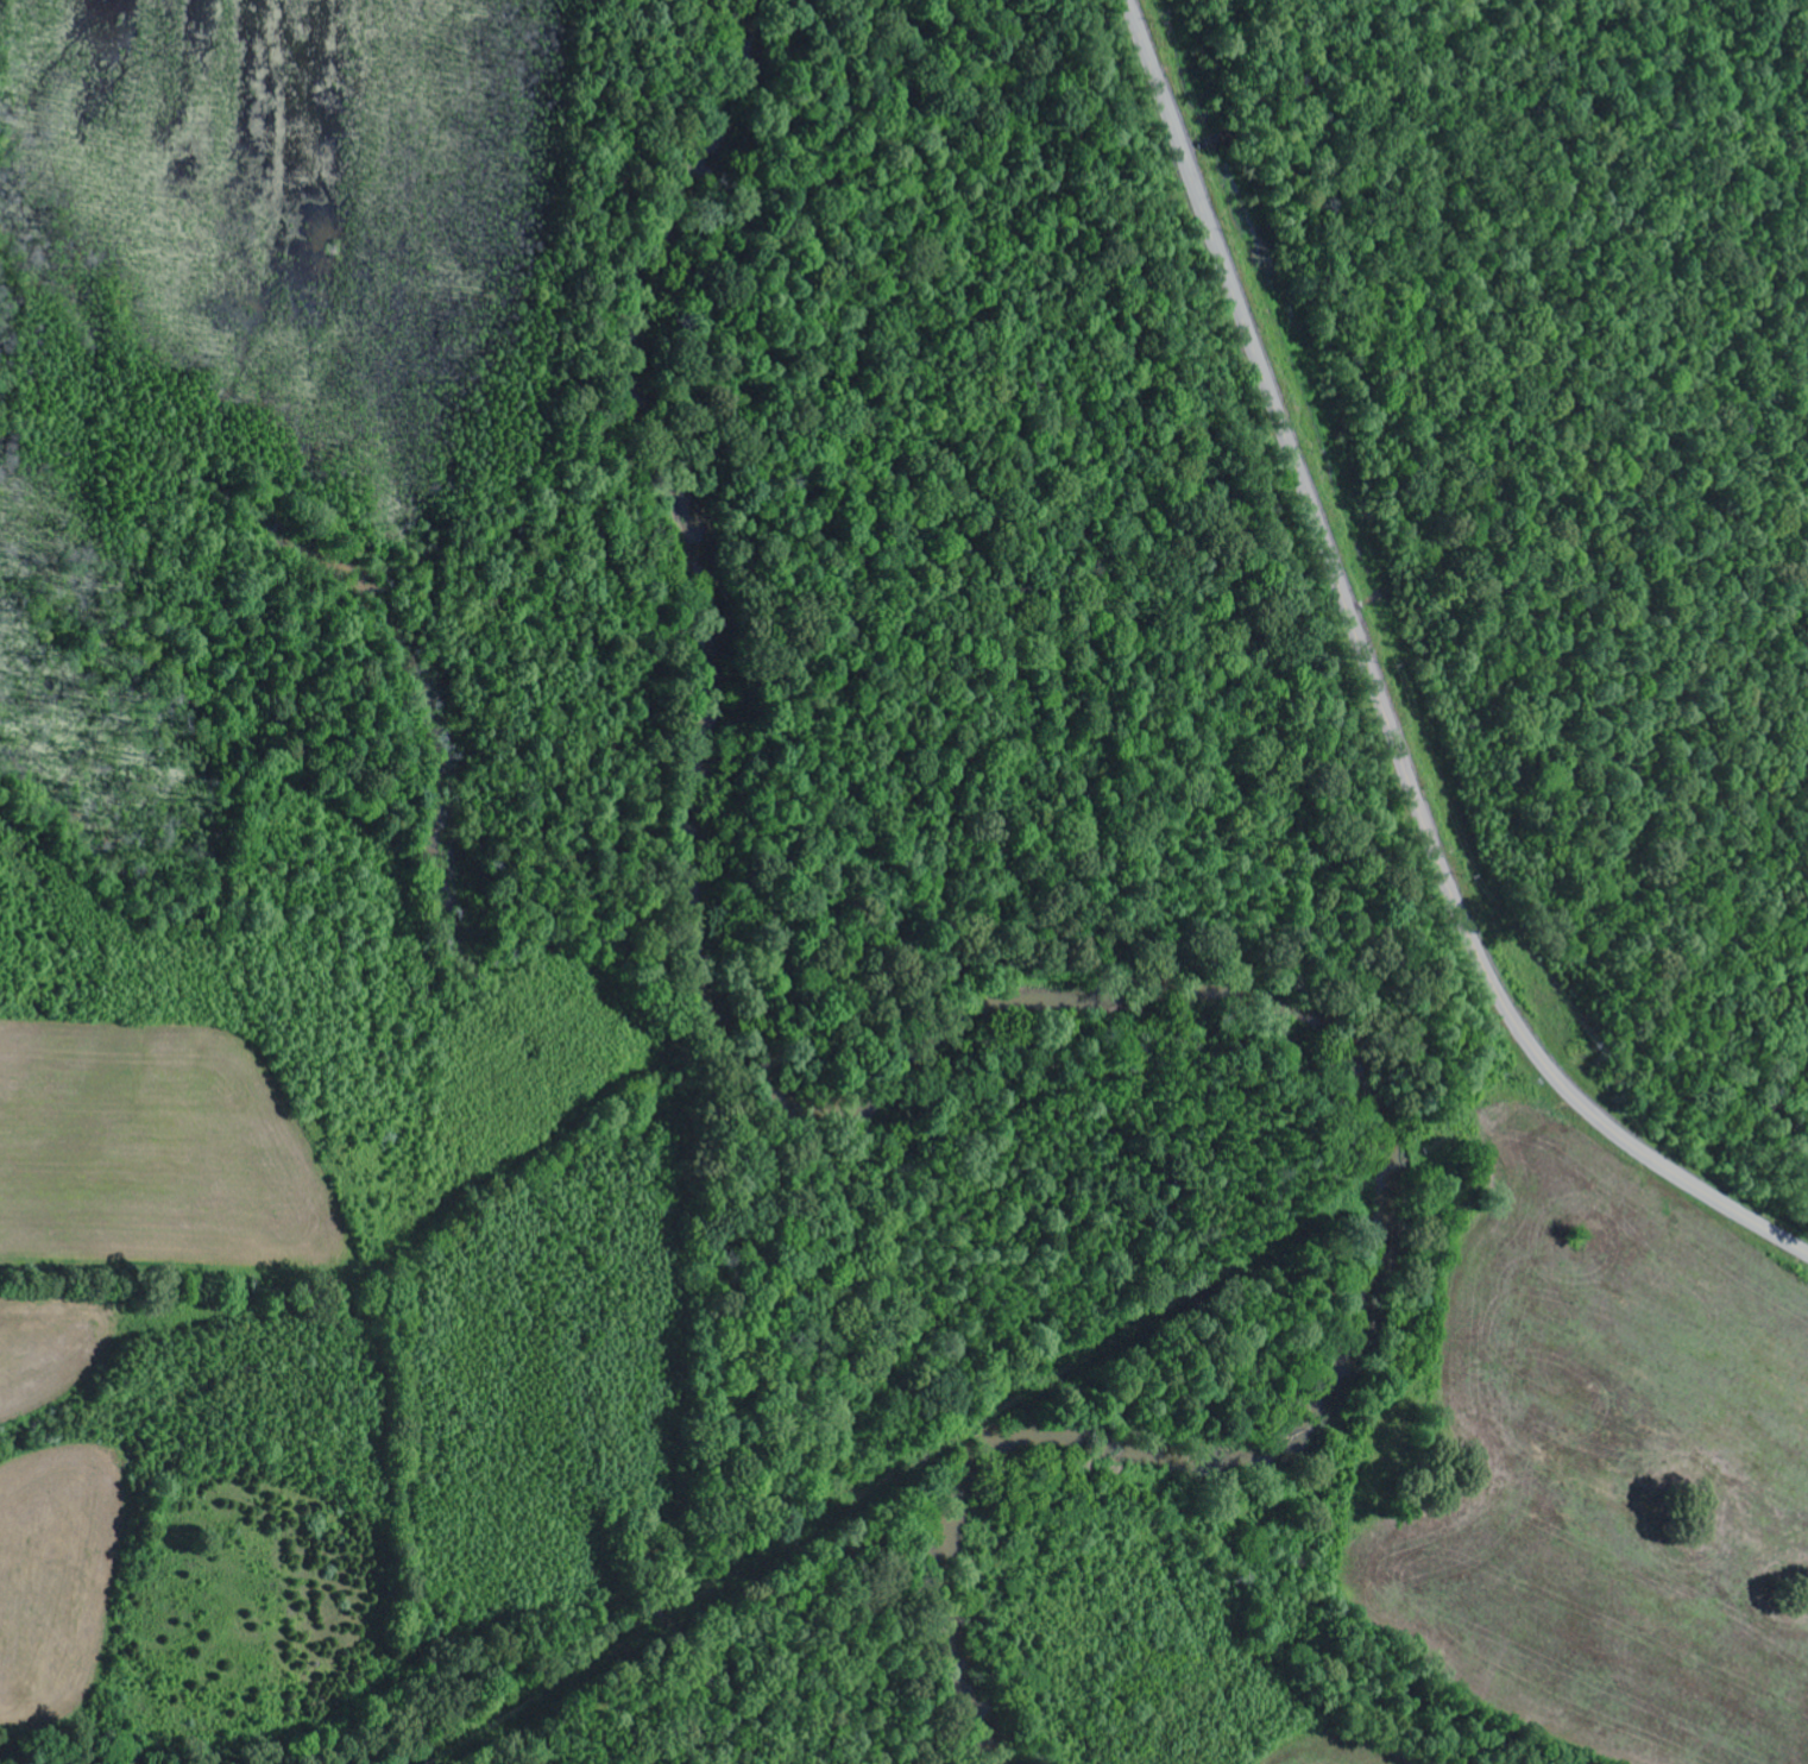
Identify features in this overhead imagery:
road: (1377, 691)
river: (997, 1012)
crop: (170, 1369)

